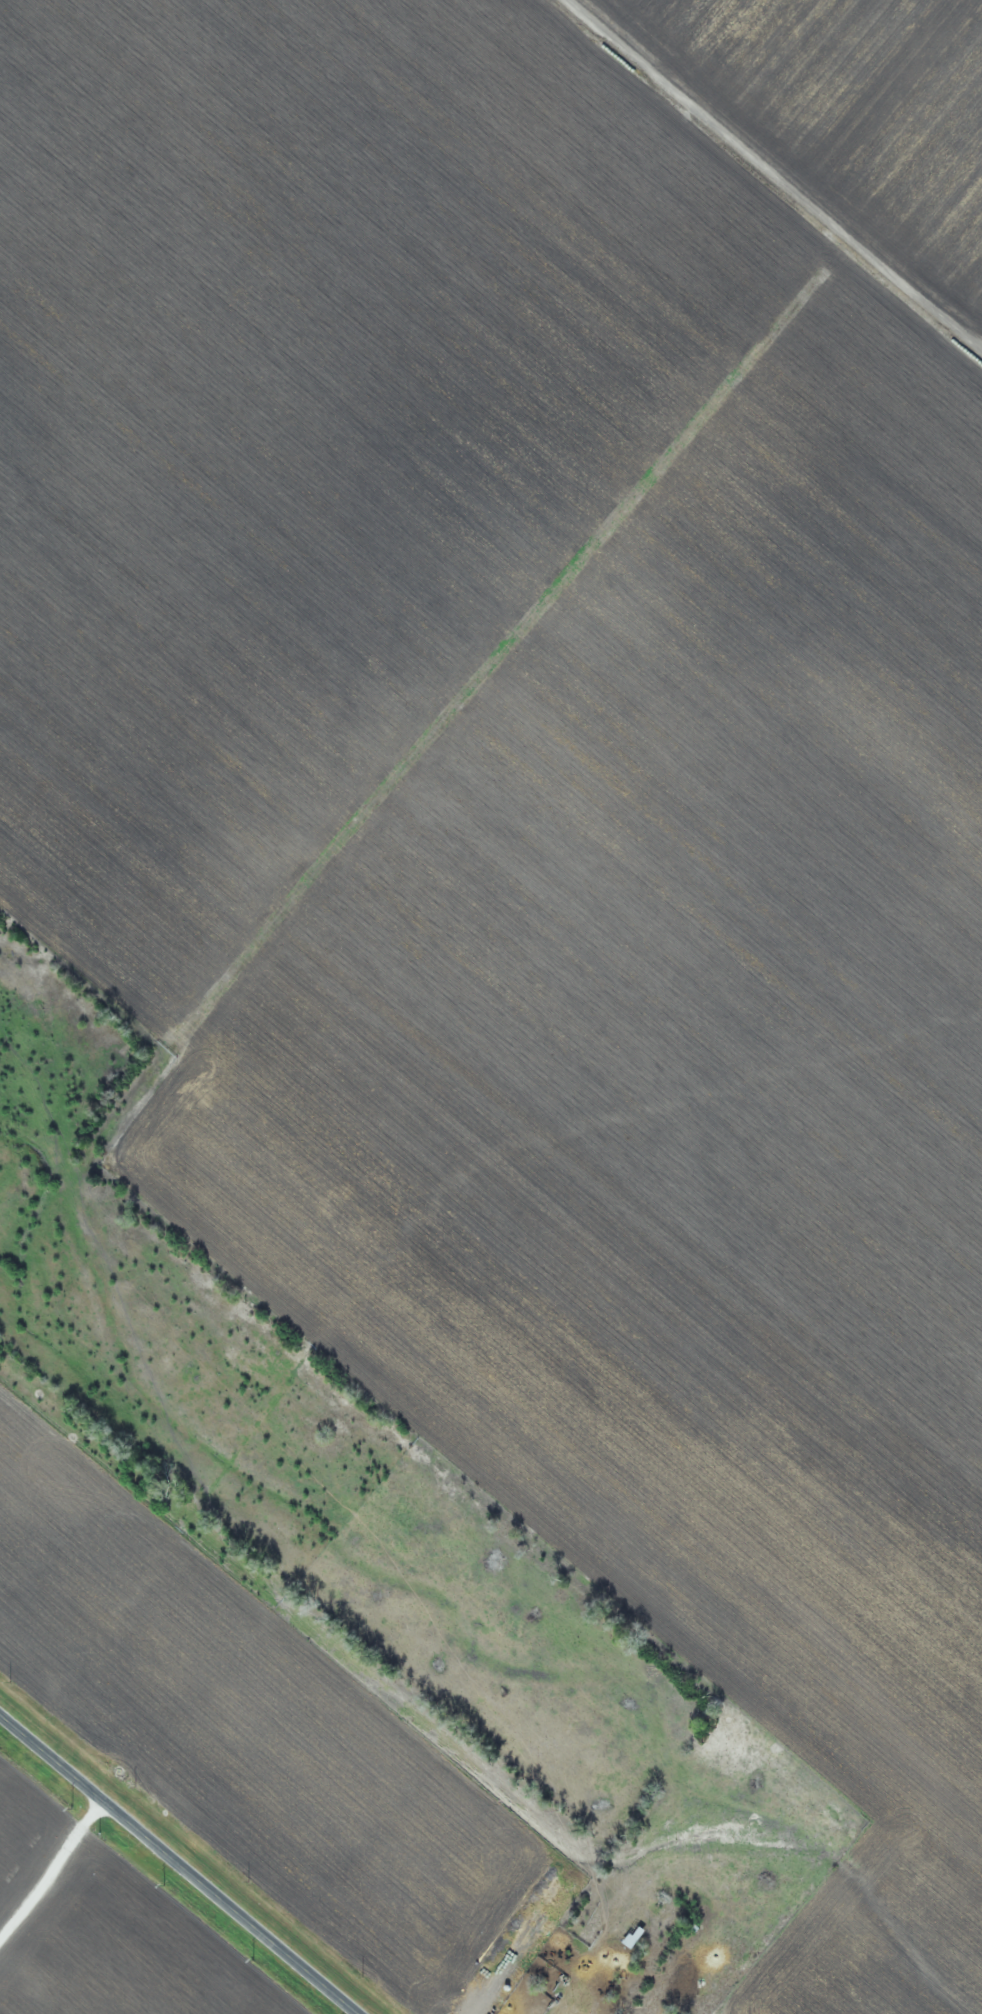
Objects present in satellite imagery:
road: (179, 1864)

